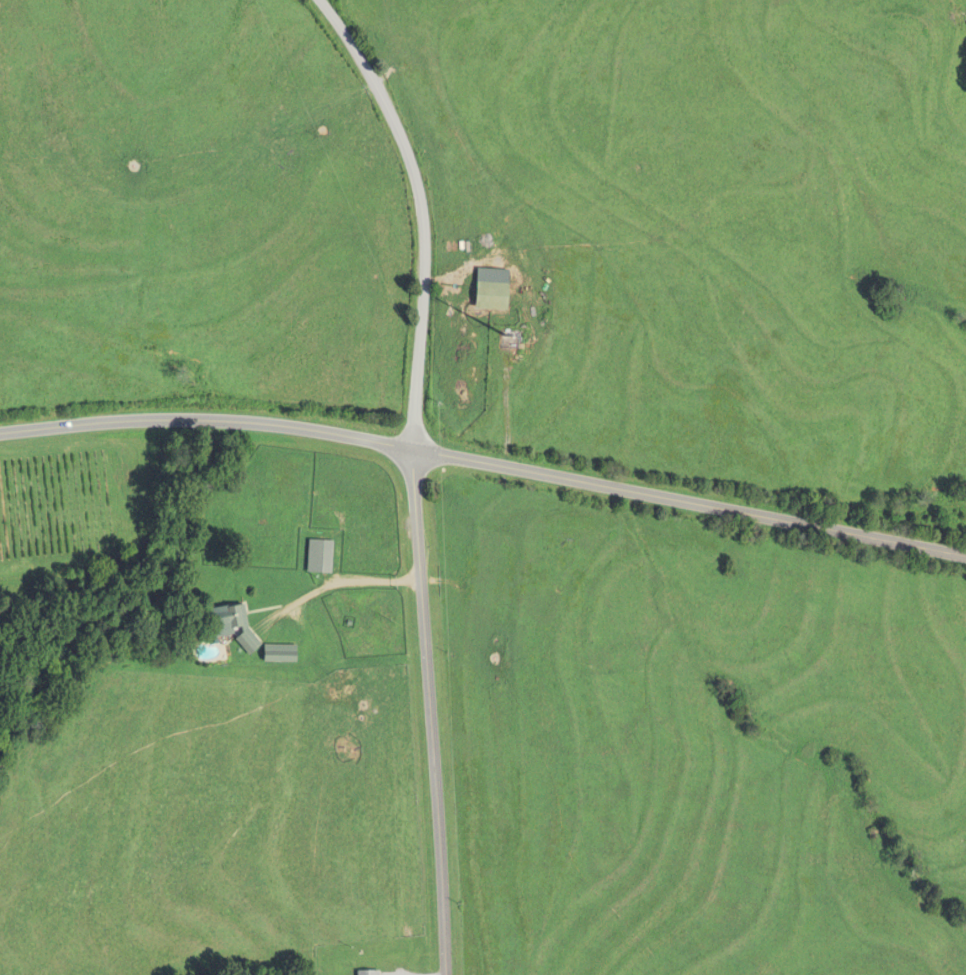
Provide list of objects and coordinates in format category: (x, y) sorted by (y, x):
building: (491, 296)
road: (485, 468)
road: (417, 473)
building: (315, 556)
building: (233, 624)
building: (280, 653)
building: (369, 973)

